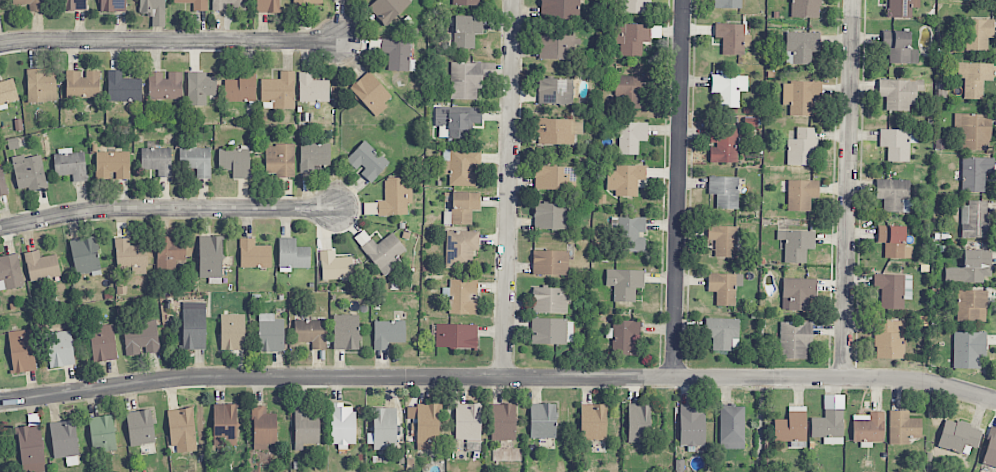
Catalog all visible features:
building: (336, 0)
building: (975, 0)
building: (465, 2)
building: (307, 3)
building: (31, 4)
building: (195, 4)
building: (727, 4)
building: (75, 5)
building: (113, 5)
building: (229, 5)
building: (268, 6)
building: (635, 6)
building: (805, 8)
building: (902, 8)
building: (152, 9)
building: (388, 9)
building: (559, 9)
building: (466, 31)
building: (978, 34)
building: (732, 38)
building: (634, 39)
road: (172, 40)
building: (556, 47)
building: (801, 47)
building: (899, 47)
building: (396, 54)
building: (975, 78)
building: (468, 79)
building: (82, 84)
building: (41, 86)
building: (165, 86)
building: (123, 88)
building: (200, 88)
building: (241, 88)
building: (728, 88)
building: (312, 89)
building: (279, 90)
building: (555, 91)
building: (630, 92)
building: (7, 93)
building: (371, 93)
building: (899, 93)
building: (800, 97)
building: (456, 121)
building: (558, 131)
building: (973, 131)
building: (631, 137)
building: (895, 144)
building: (723, 145)
building: (802, 147)
building: (313, 156)
building: (195, 160)
building: (280, 160)
building: (235, 161)
building: (367, 161)
building: (70, 164)
building: (112, 164)
building: (461, 166)
building: (29, 172)
building: (975, 173)
building: (552, 178)
building: (625, 179)
building: (2, 182)
road: (509, 189)
road: (679, 190)
road: (850, 190)
building: (724, 191)
building: (801, 194)
building: (893, 195)
building: (396, 196)
road: (166, 207)
building: (461, 207)
building: (550, 216)
building: (974, 220)
building: (630, 232)
building: (723, 240)
building: (893, 242)
building: (796, 244)
building: (460, 248)
building: (170, 252)
building: (384, 253)
building: (253, 254)
building: (84, 255)
building: (292, 255)
building: (131, 256)
building: (210, 258)
building: (550, 263)
building: (41, 266)
building: (335, 266)
building: (970, 268)
building: (10, 272)
building: (624, 283)
building: (724, 287)
building: (893, 289)
building: (798, 293)
building: (463, 297)
building: (549, 300)
building: (971, 306)
building: (193, 326)
building: (551, 331)
building: (232, 332)
building: (345, 332)
building: (721, 332)
building: (271, 333)
building: (311, 333)
building: (388, 333)
building: (456, 336)
building: (626, 338)
building: (141, 339)
building: (794, 339)
building: (889, 339)
building: (103, 344)
building: (60, 349)
building: (968, 349)
building: (22, 351)
road: (498, 377)
building: (542, 421)
building: (830, 421)
building: (467, 422)
building: (503, 422)
building: (593, 422)
building: (638, 422)
building: (224, 425)
building: (342, 425)
building: (425, 425)
building: (691, 426)
building: (791, 426)
building: (305, 427)
building: (731, 427)
building: (867, 427)
building: (903, 427)
building: (140, 428)
building: (263, 428)
building: (182, 429)
building: (383, 429)
building: (102, 433)
building: (958, 437)
building: (64, 439)
building: (31, 448)
building: (990, 449)

